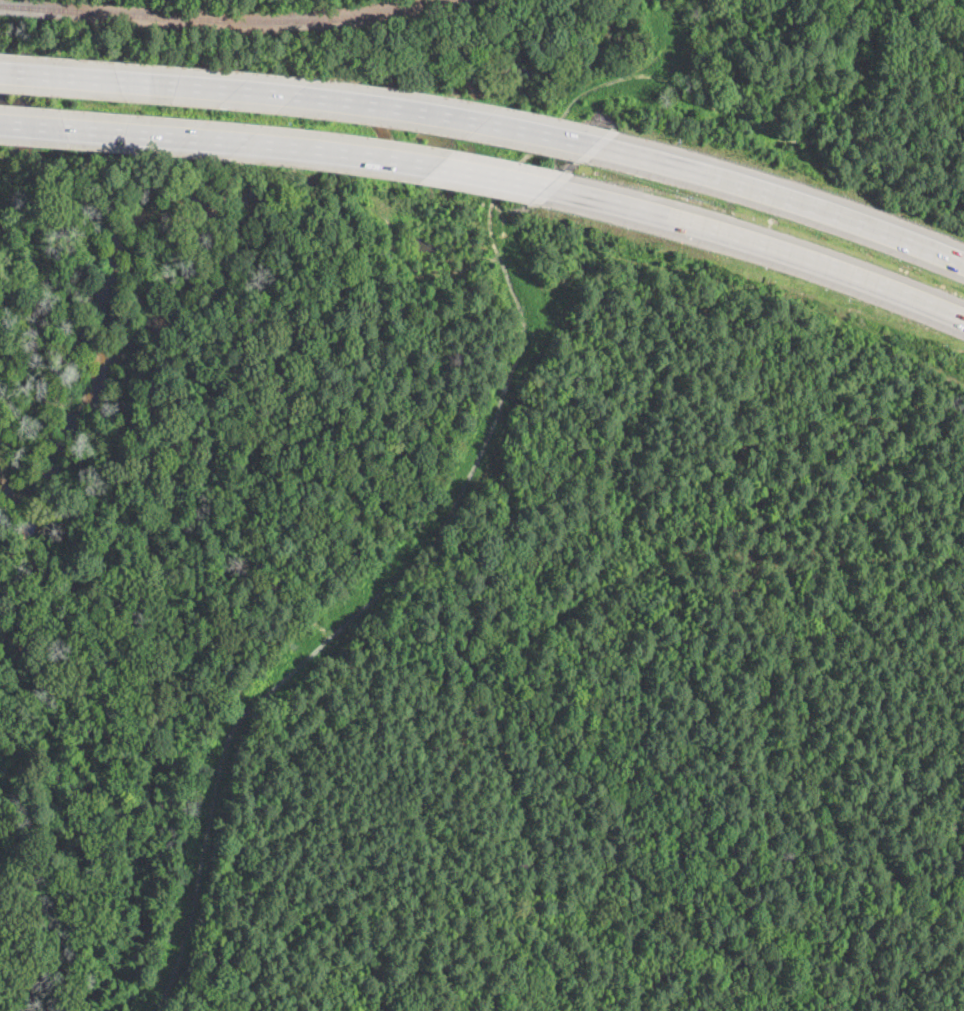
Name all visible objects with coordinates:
road: (304, 97)
road: (280, 147)
road: (786, 200)
road: (764, 245)

